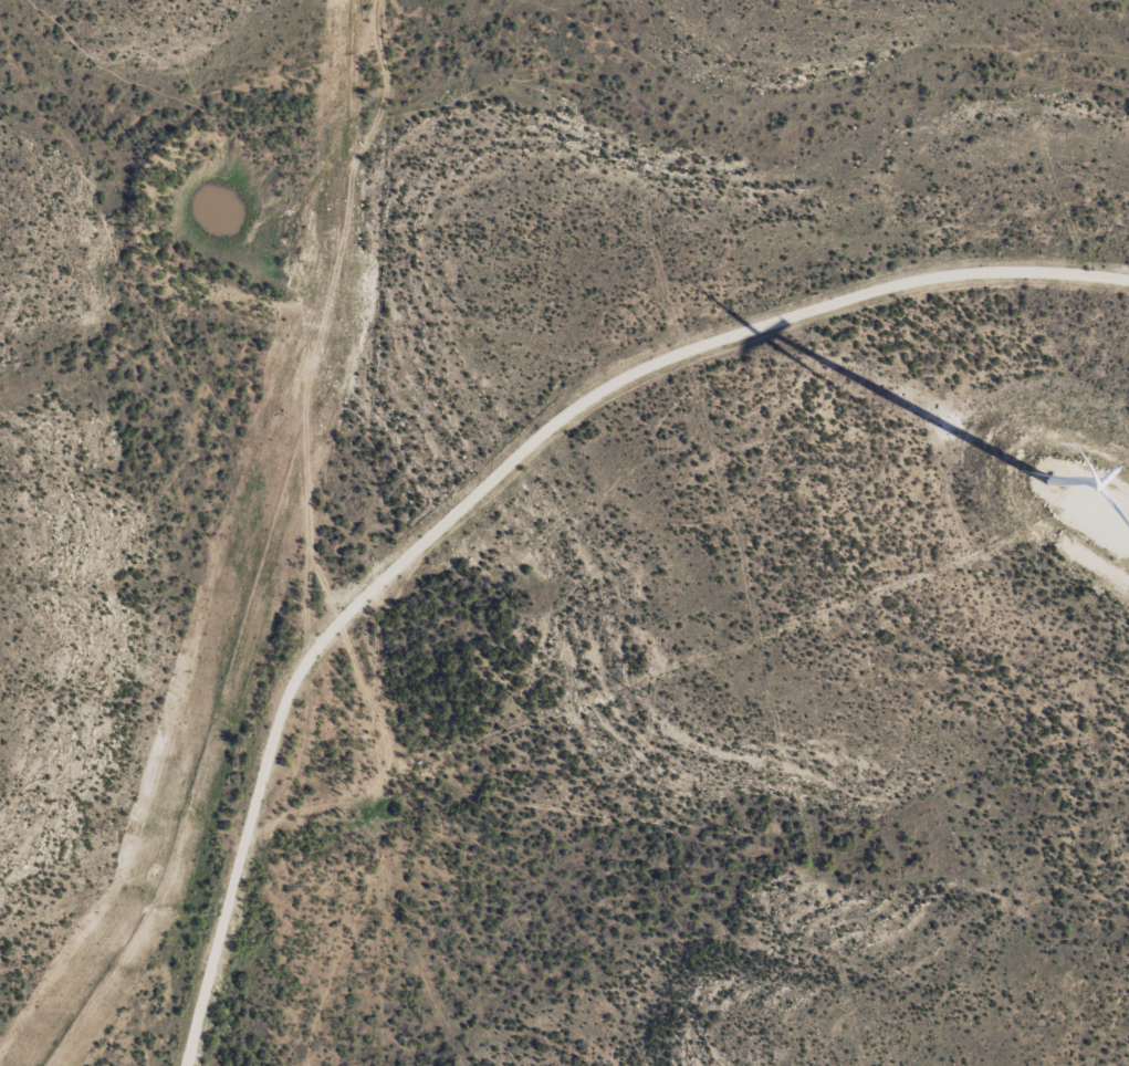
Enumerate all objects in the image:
road: (1119, 0)
road: (400, 358)
wind turbine: (1086, 473)
road: (189, 520)

